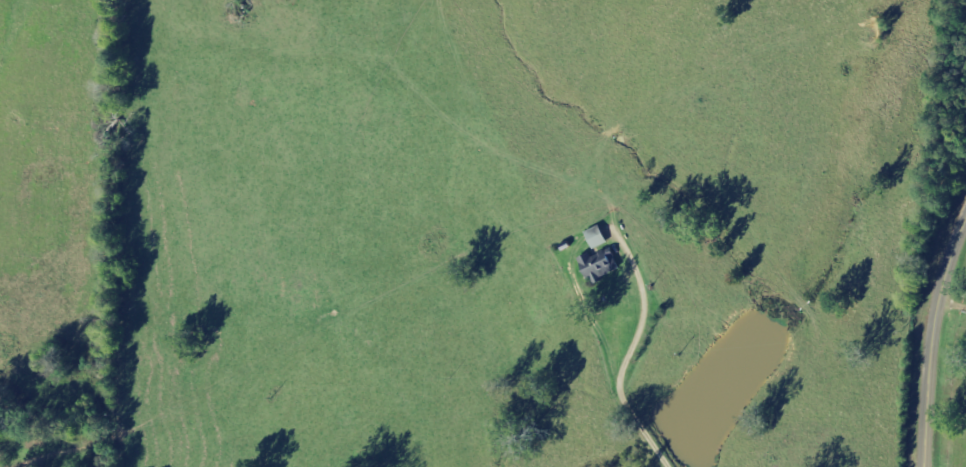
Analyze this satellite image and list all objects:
building: (600, 238)
building: (601, 266)
road: (931, 342)

